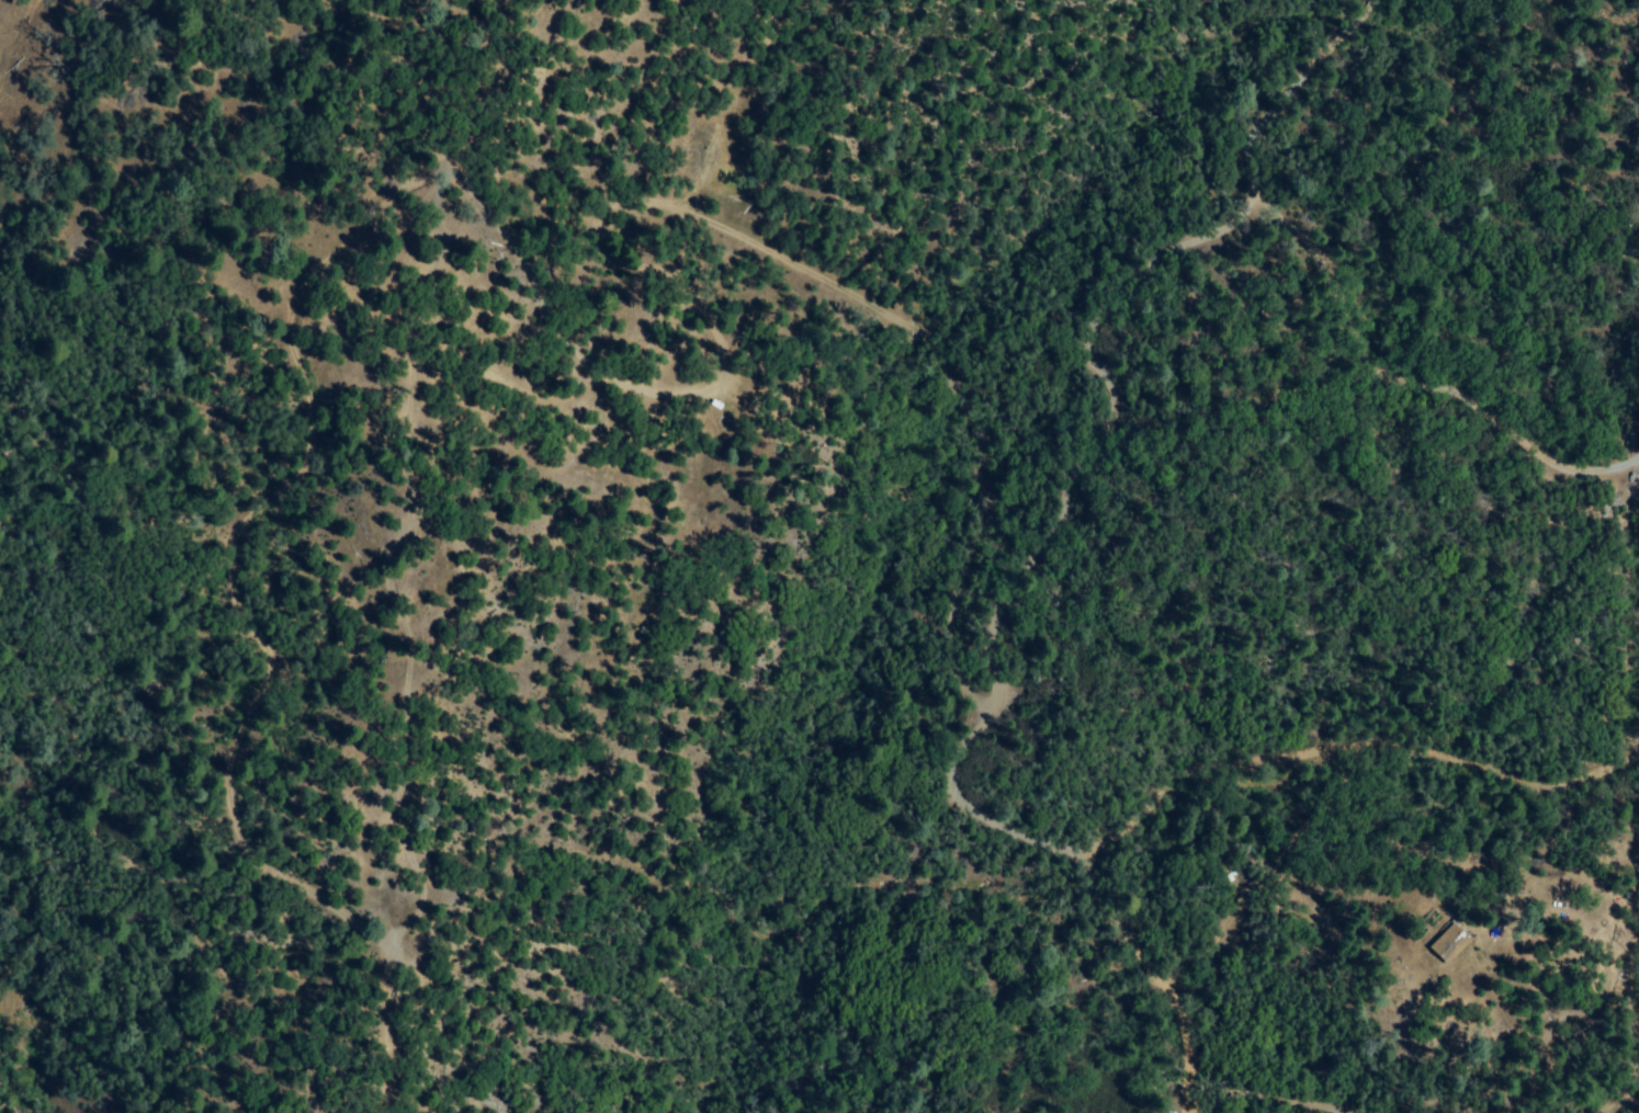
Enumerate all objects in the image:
road: (1411, 382)
road: (1110, 424)
road: (1350, 747)
building: (1440, 943)
road: (1156, 976)
road: (1263, 1097)
road: (1621, 1106)

